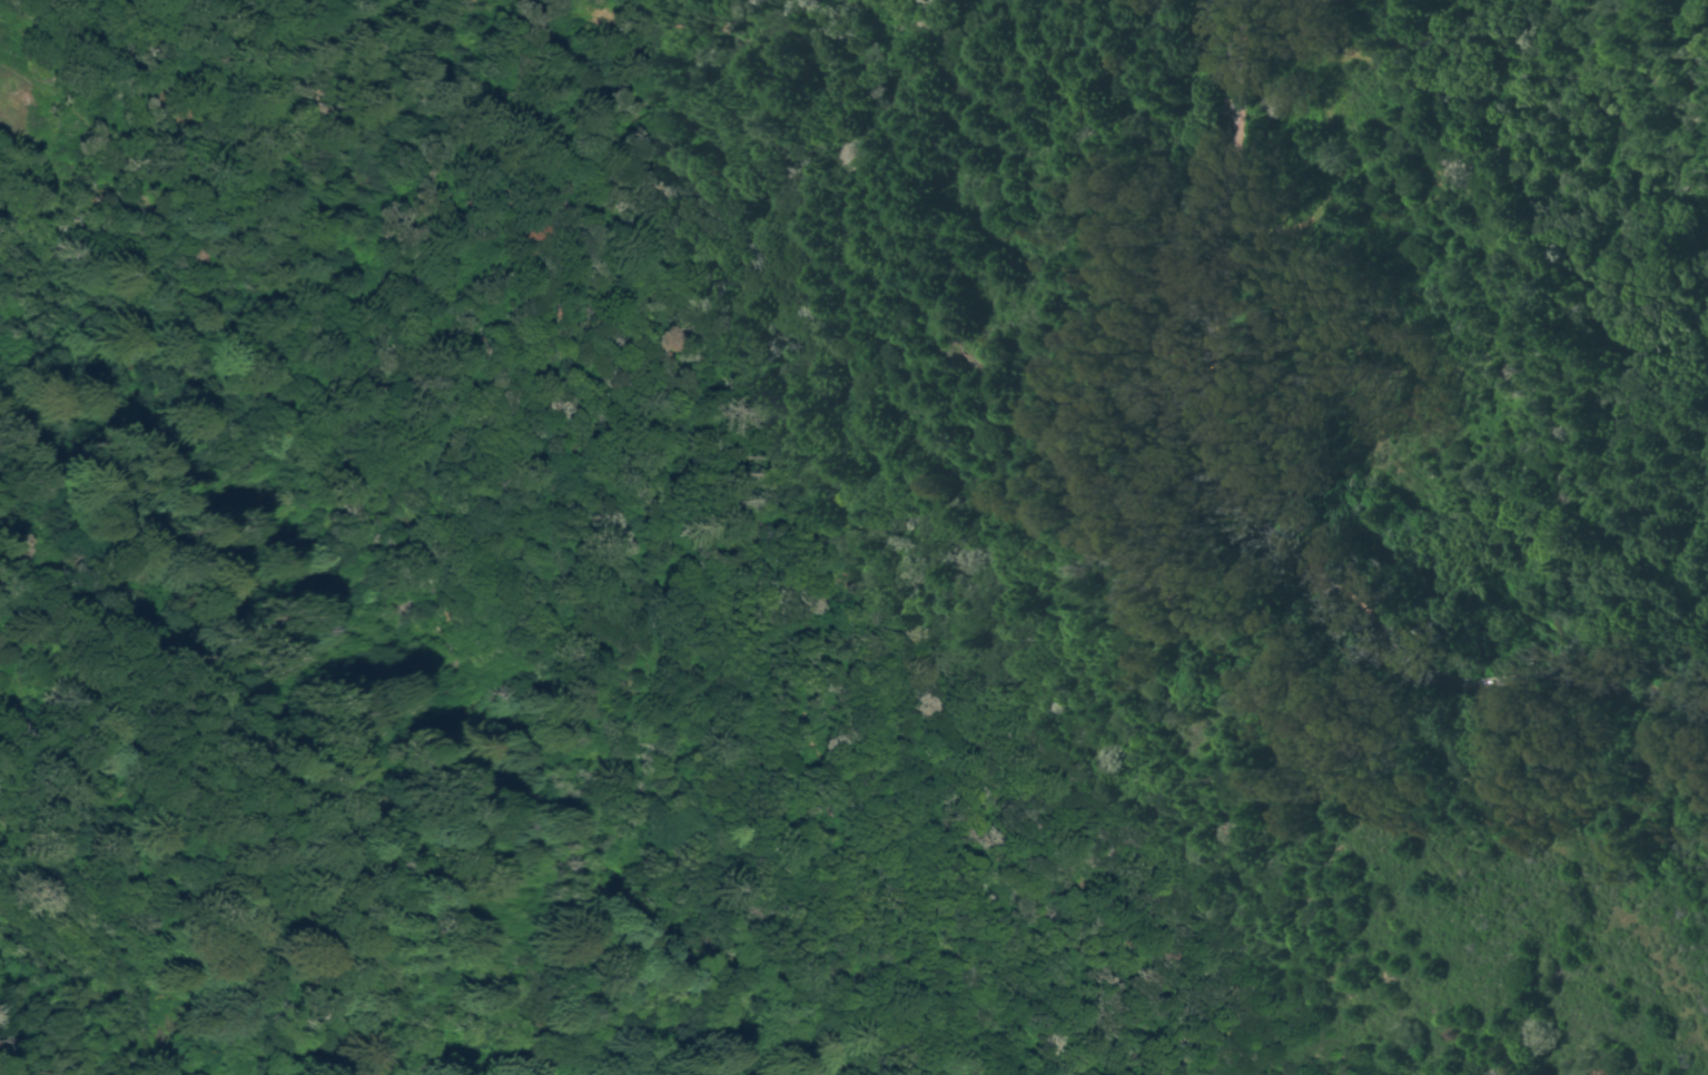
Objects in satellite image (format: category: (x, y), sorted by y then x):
road: (1227, 514)
road: (501, 586)

